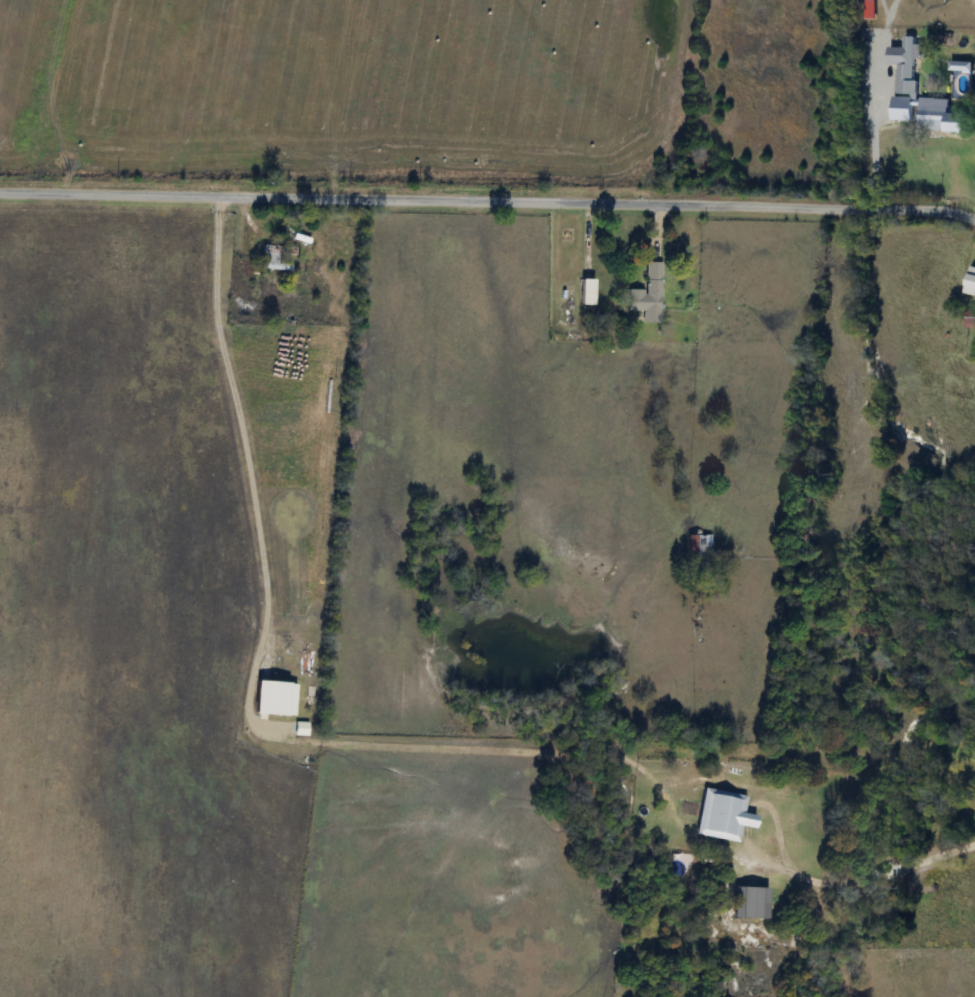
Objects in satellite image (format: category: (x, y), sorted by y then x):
road: (886, 7)
road: (892, 7)
building: (873, 75)
road: (876, 111)
building: (928, 114)
road: (488, 202)
building: (272, 255)
building: (587, 292)
building: (648, 295)
building: (973, 319)
road: (231, 423)
building: (698, 549)
road: (895, 867)
building: (750, 902)

